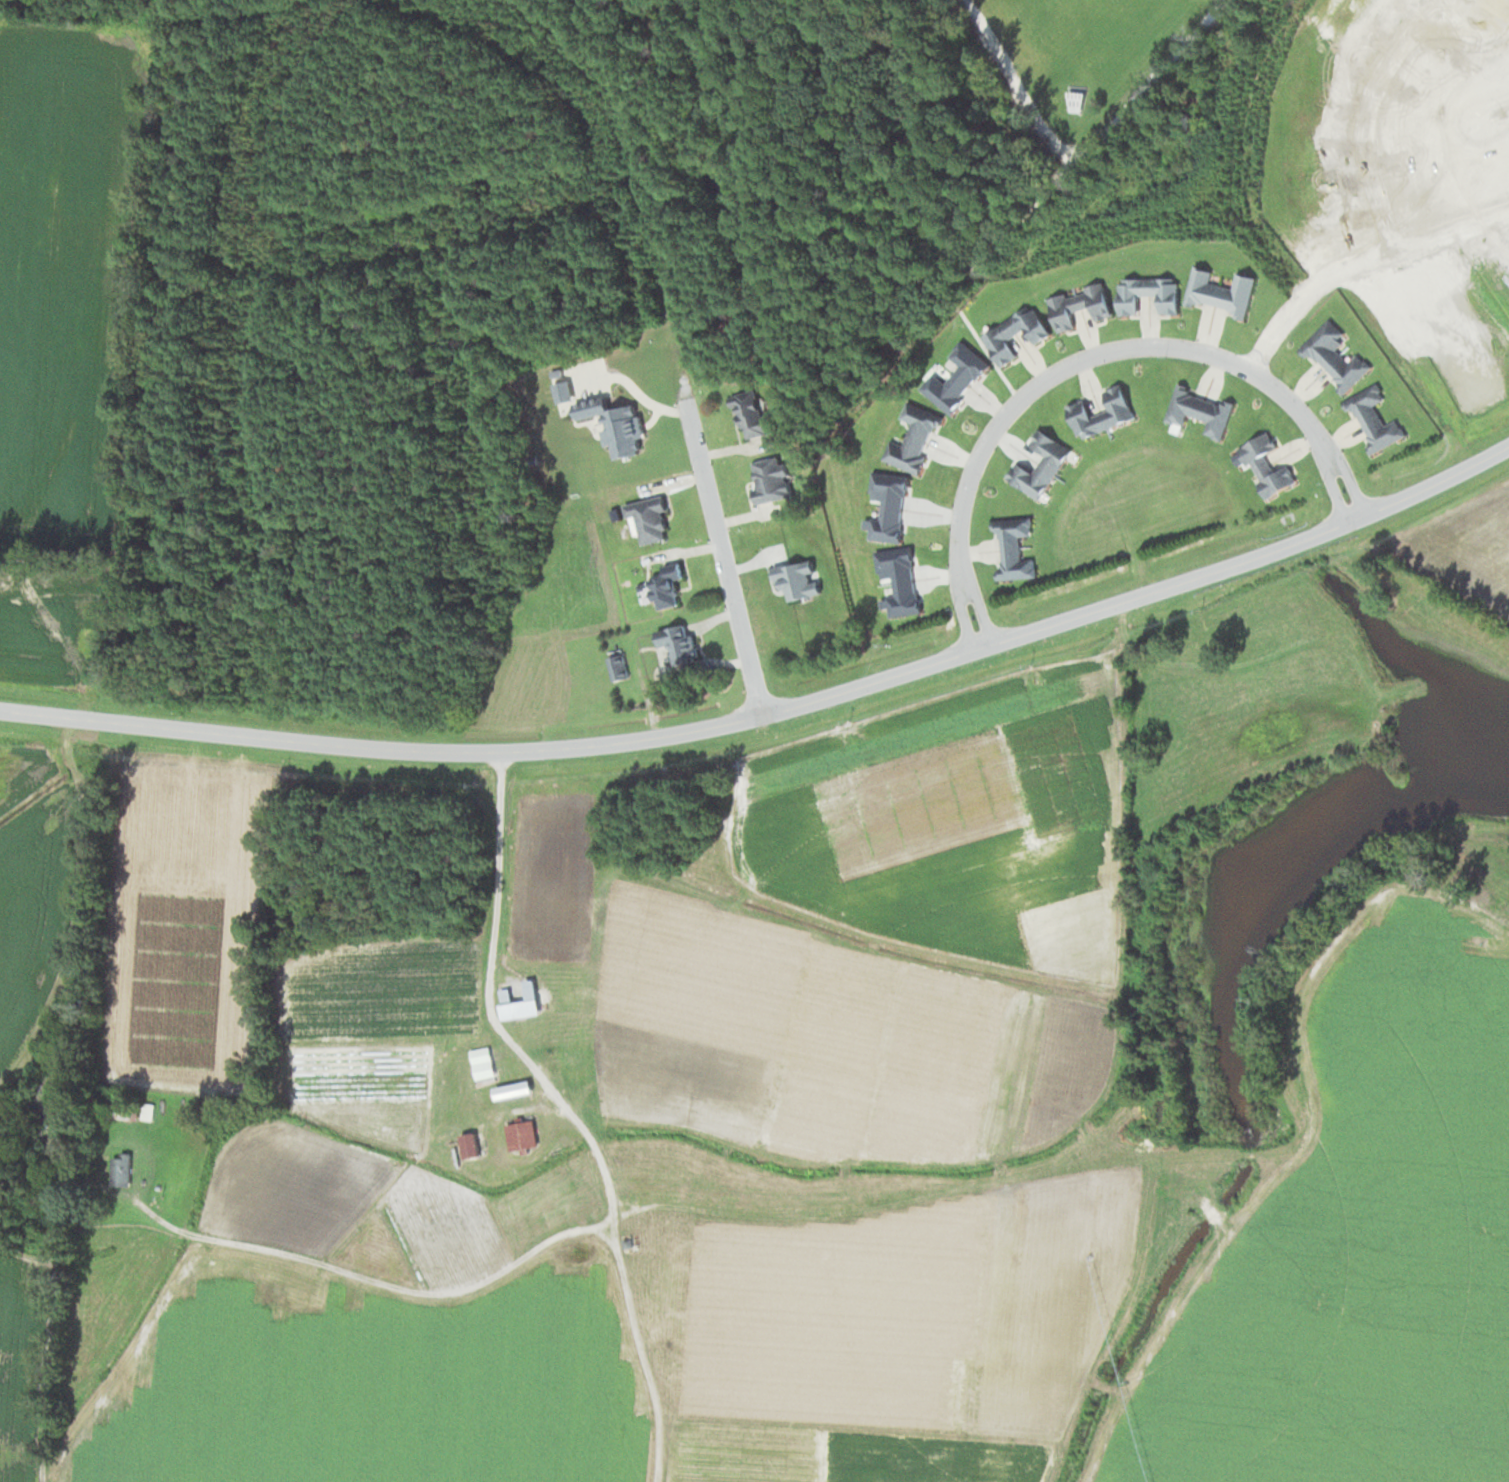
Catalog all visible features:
building: (1075, 97)
building: (1219, 289)
building: (1145, 294)
building: (1079, 306)
road: (1276, 324)
building: (1013, 334)
road: (1088, 352)
building: (1334, 356)
building: (1197, 410)
building: (1100, 412)
building: (751, 414)
building: (1372, 417)
building: (601, 419)
building: (911, 438)
building: (1039, 464)
building: (1266, 465)
building: (769, 479)
building: (647, 518)
road: (709, 531)
building: (1012, 548)
building: (664, 584)
building: (676, 642)
building: (615, 666)
road: (776, 710)
building: (518, 1001)
road: (484, 1009)
building: (572, 1057)
building: (47, 1070)
building: (510, 1089)
building: (128, 1109)
building: (519, 1135)
building: (467, 1145)
building: (118, 1169)
building: (632, 1186)
building: (541, 1214)
road: (489, 1274)
building: (651, 1281)
building: (656, 1343)

